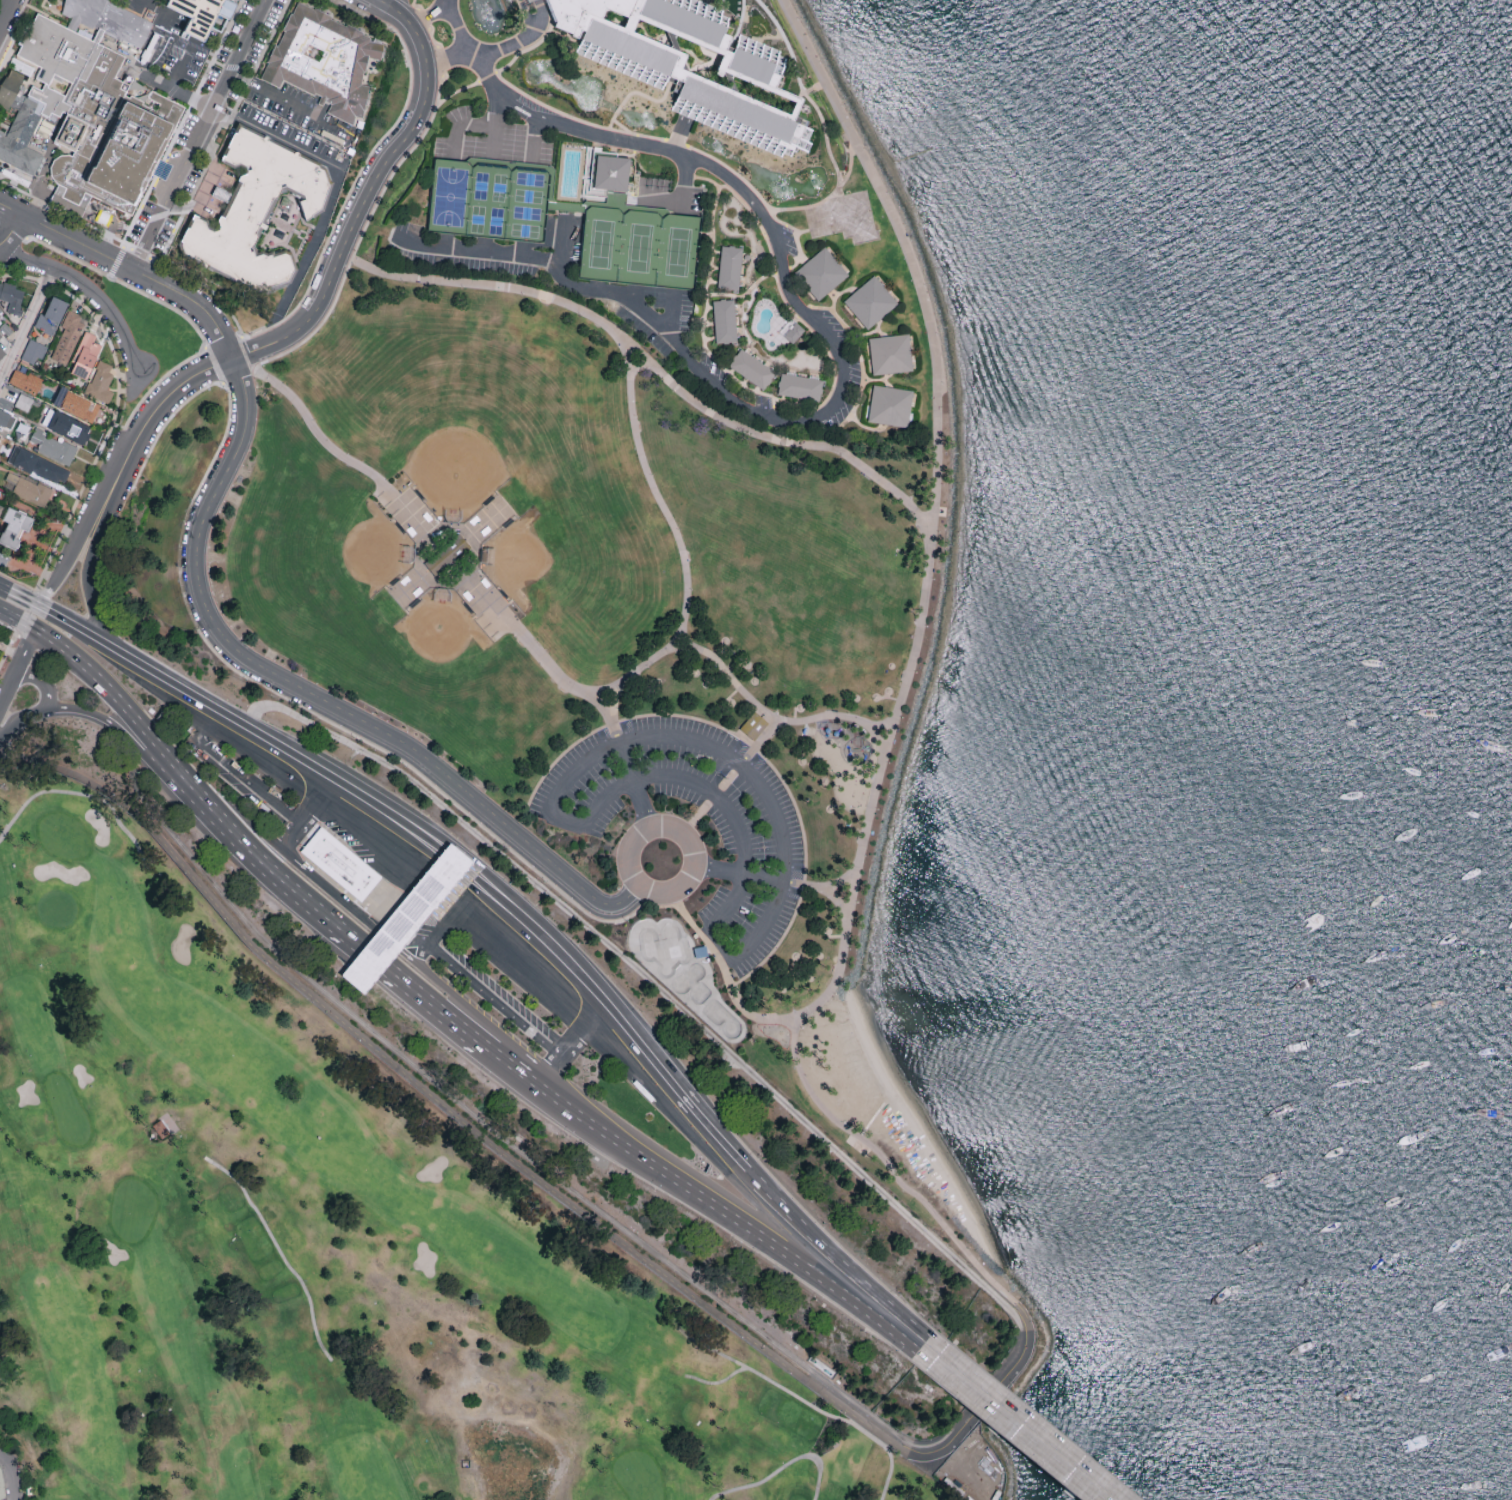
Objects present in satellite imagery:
road: (741, 1)
road: (384, 2)
road: (136, 4)
building: (531, 5)
road: (532, 5)
road: (388, 6)
road: (740, 7)
road: (5, 10)
building: (201, 15)
road: (427, 16)
building: (107, 20)
road: (738, 30)
road: (485, 54)
road: (447, 61)
building: (323, 63)
road: (180, 65)
road: (145, 75)
building: (757, 81)
road: (288, 103)
road: (490, 106)
building: (96, 117)
road: (476, 124)
building: (46, 127)
building: (18, 128)
road: (825, 134)
road: (198, 135)
road: (532, 139)
road: (276, 140)
road: (850, 166)
building: (608, 174)
road: (680, 183)
park: (492, 202)
road: (366, 204)
road: (74, 211)
building: (253, 212)
road: (10, 229)
road: (65, 237)
park: (567, 245)
park: (639, 249)
building: (729, 270)
building: (820, 275)
road: (88, 293)
building: (12, 302)
road: (193, 302)
building: (869, 303)
building: (0, 308)
building: (0, 311)
road: (671, 314)
road: (806, 314)
building: (51, 317)
building: (724, 322)
road: (27, 327)
building: (6, 328)
building: (1, 337)
building: (67, 338)
building: (33, 353)
building: (2, 354)
building: (85, 356)
building: (890, 356)
road: (649, 362)
building: (751, 370)
building: (25, 383)
building: (100, 384)
building: (799, 389)
building: (23, 404)
building: (76, 406)
building: (889, 407)
park: (461, 415)
road: (151, 419)
building: (6, 421)
building: (66, 425)
building: (22, 431)
building: (6, 446)
road: (330, 446)
building: (54, 448)
building: (43, 469)
building: (32, 493)
building: (0, 505)
building: (1, 510)
building: (14, 529)
road: (470, 535)
park: (330, 549)
park: (606, 554)
road: (69, 558)
park: (574, 566)
road: (87, 576)
road: (19, 596)
road: (17, 621)
road: (71, 623)
park: (440, 661)
road: (652, 661)
road: (17, 667)
road: (40, 680)
road: (175, 683)
road: (904, 690)
road: (316, 695)
road: (111, 696)
road: (613, 718)
road: (774, 719)
road: (22, 720)
building: (752, 721)
road: (118, 729)
road: (743, 761)
road: (348, 782)
road: (639, 785)
road: (716, 792)
road: (85, 795)
road: (309, 811)
road: (568, 818)
road: (349, 825)
parking lot: (766, 845)
road: (698, 861)
road: (267, 862)
building: (340, 866)
road: (743, 871)
road: (827, 886)
road: (329, 889)
road: (841, 906)
building: (407, 917)
toll booth: (406, 919)
road: (724, 943)
road: (430, 944)
road: (373, 957)
park: (679, 971)
road: (726, 975)
road: (430, 1001)
road: (495, 1005)
road: (697, 1025)
road: (509, 1042)
road: (575, 1047)
road: (695, 1104)
road: (527, 1170)
road: (698, 1190)
park: (312, 1248)
road: (280, 1253)
road: (718, 1383)
road: (812, 1407)
road: (1022, 1418)
road: (1000, 1428)
road: (781, 1468)
building: (1, 1485)

